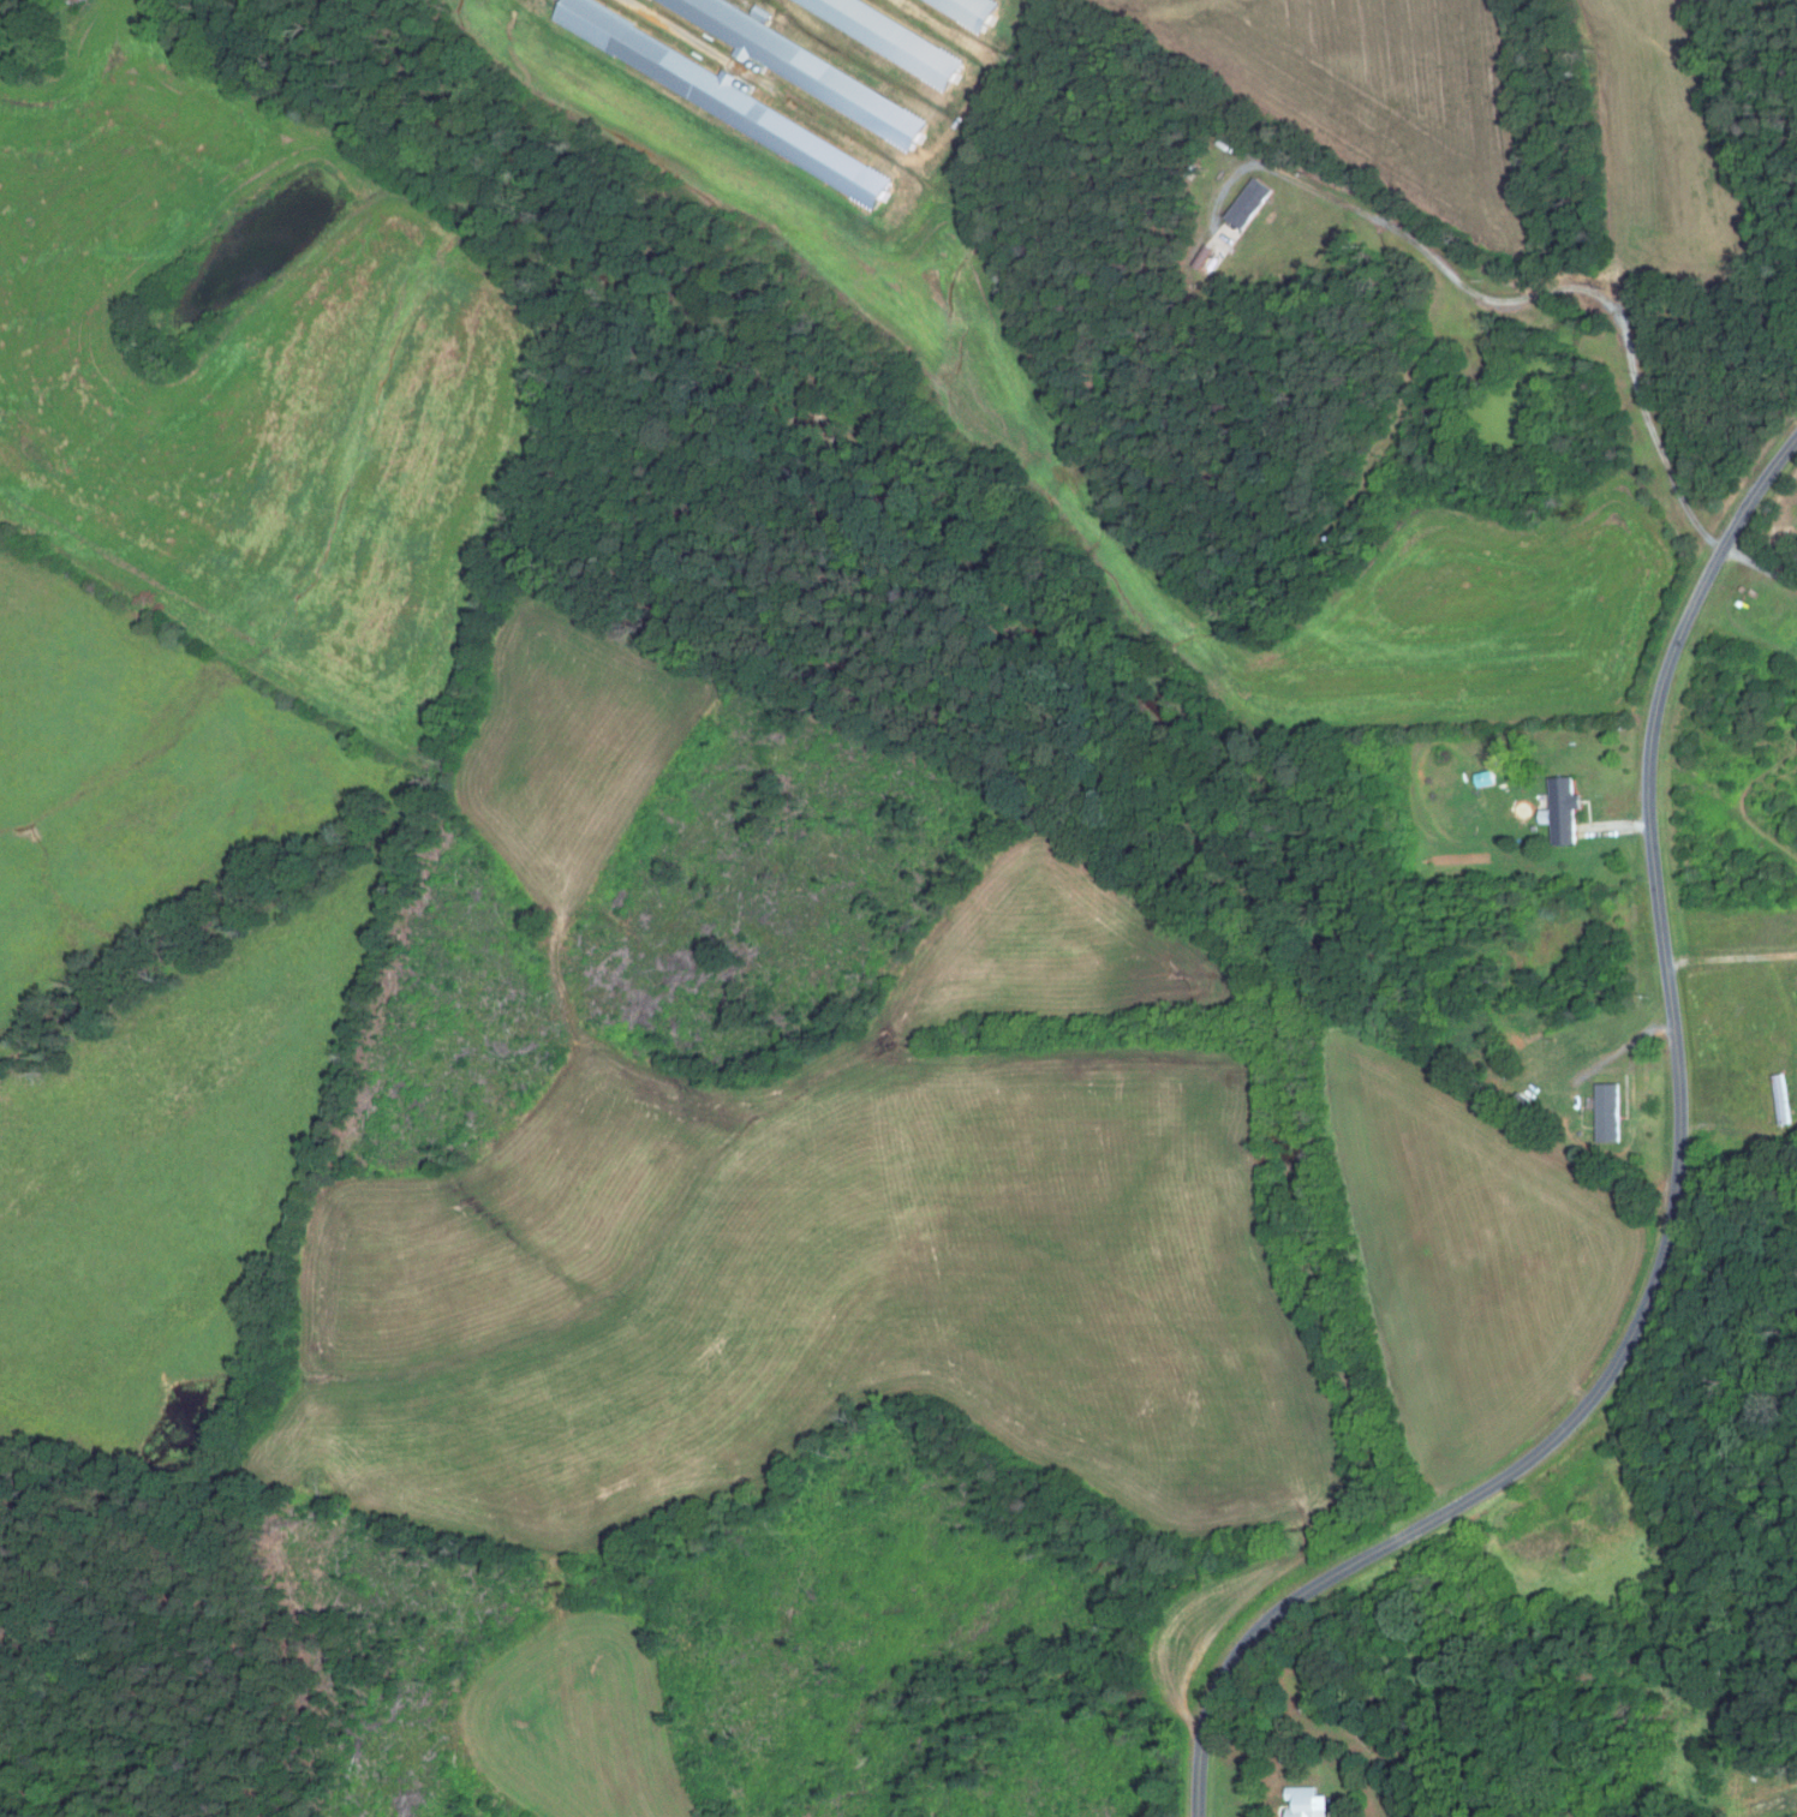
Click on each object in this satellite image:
building: (76, 4)
building: (969, 11)
building: (891, 38)
building: (805, 68)
building: (726, 100)
building: (1252, 202)
building: (1204, 257)
road: (1503, 301)
road: (1760, 567)
building: (1558, 812)
building: (1605, 1112)
road: (1673, 1215)
building: (1301, 1801)
road: (1725, 1813)

